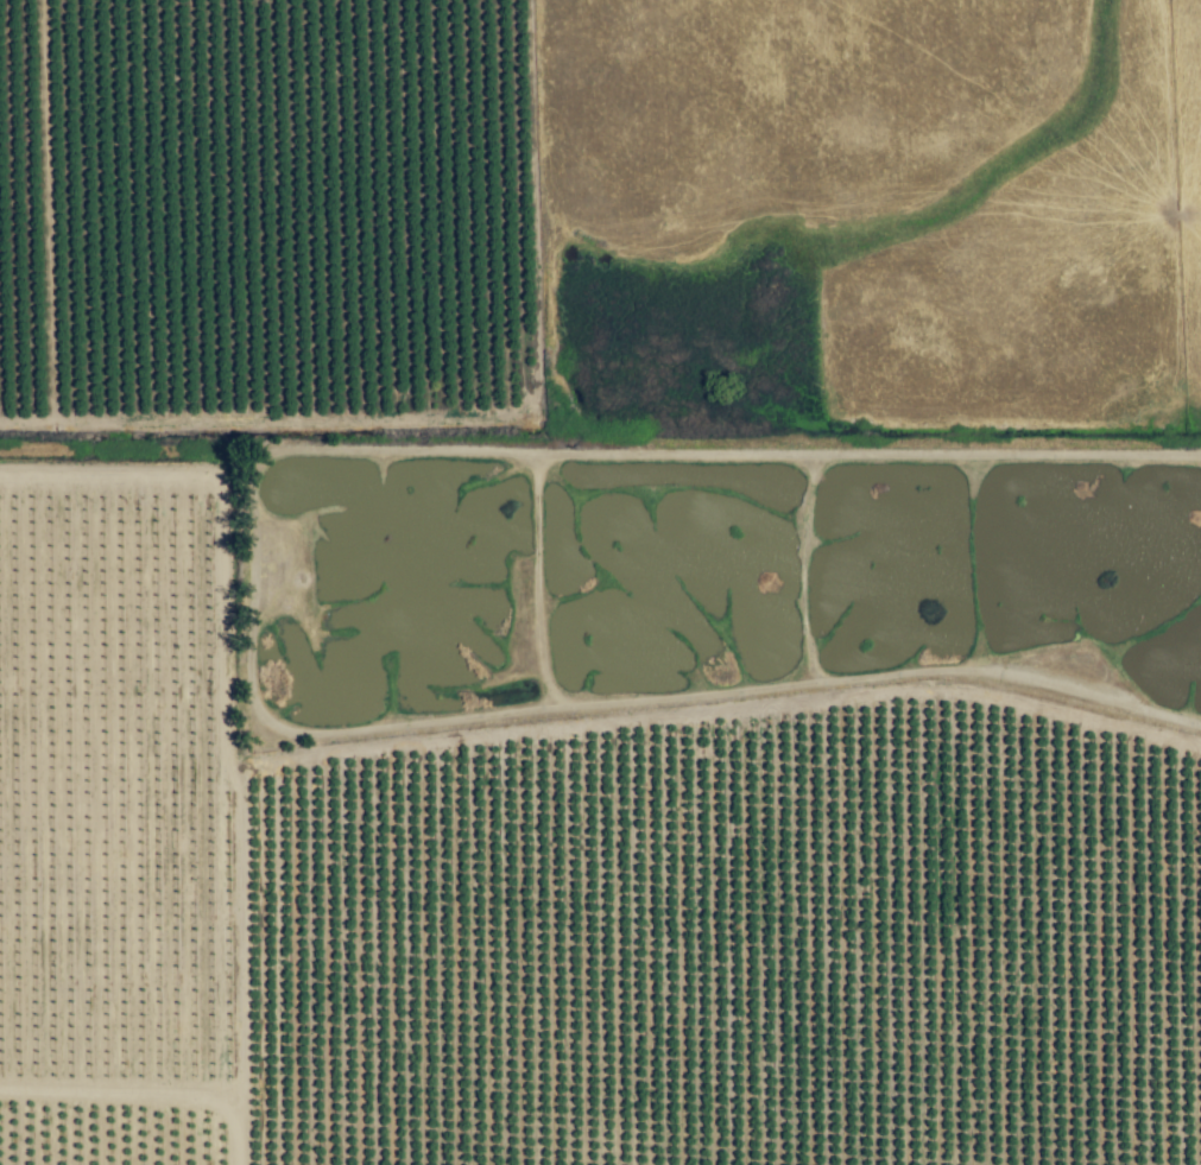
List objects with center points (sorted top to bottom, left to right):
crop: (110, 571)

